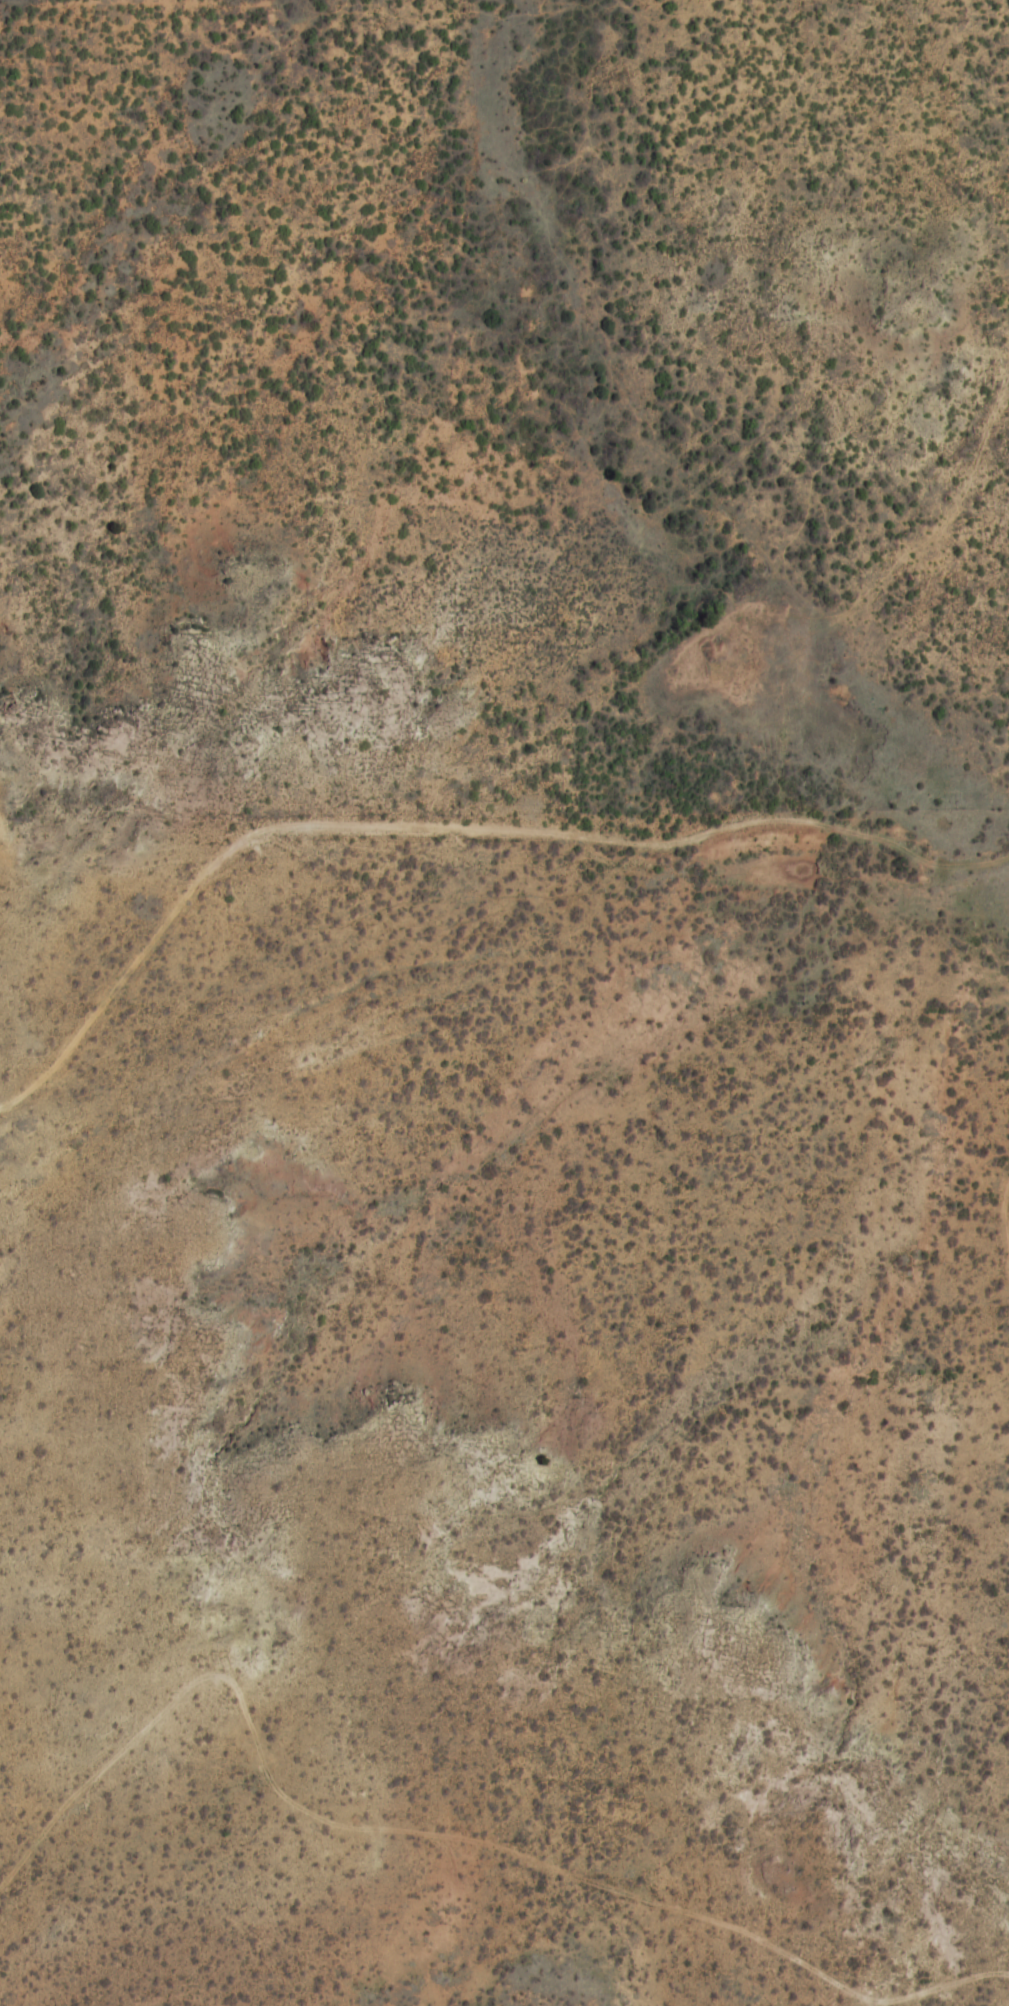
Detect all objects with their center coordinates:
road: (477, 861)

